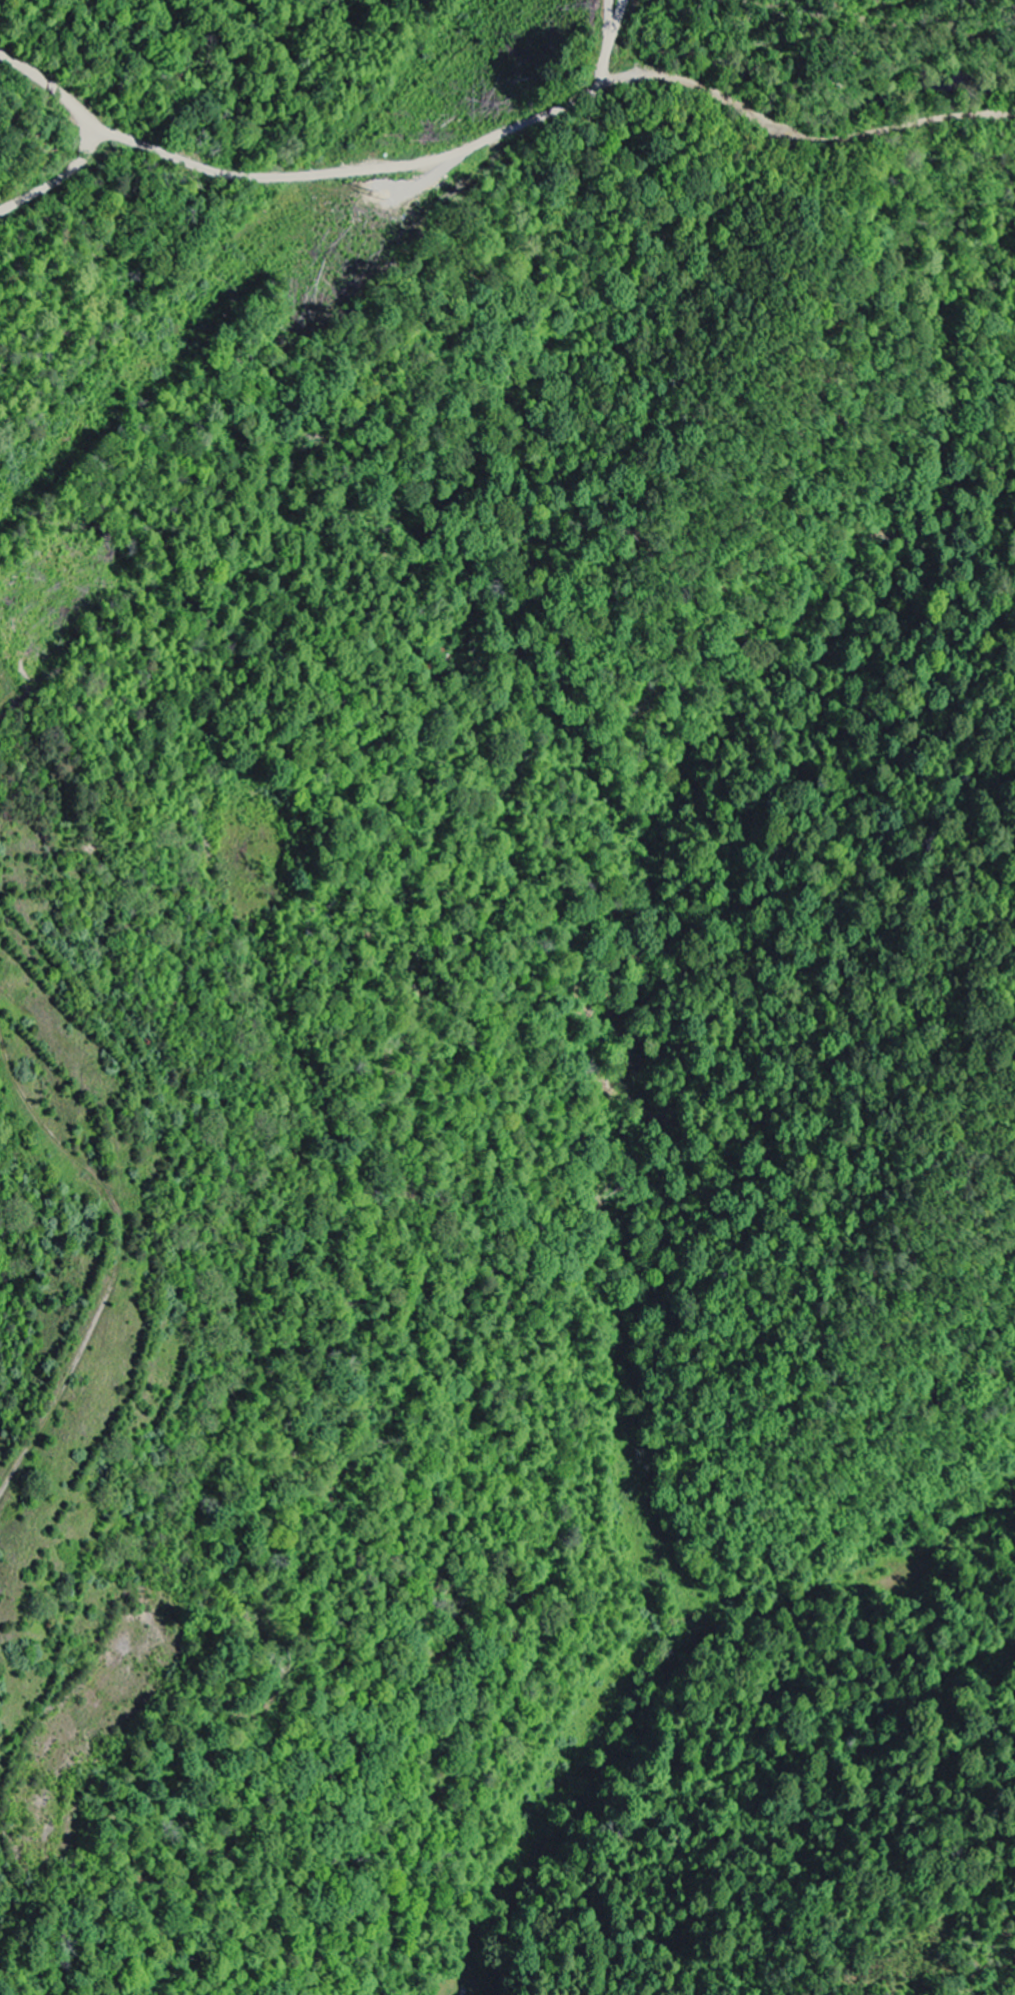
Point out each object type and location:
road: (132, 48)
road: (618, 58)

